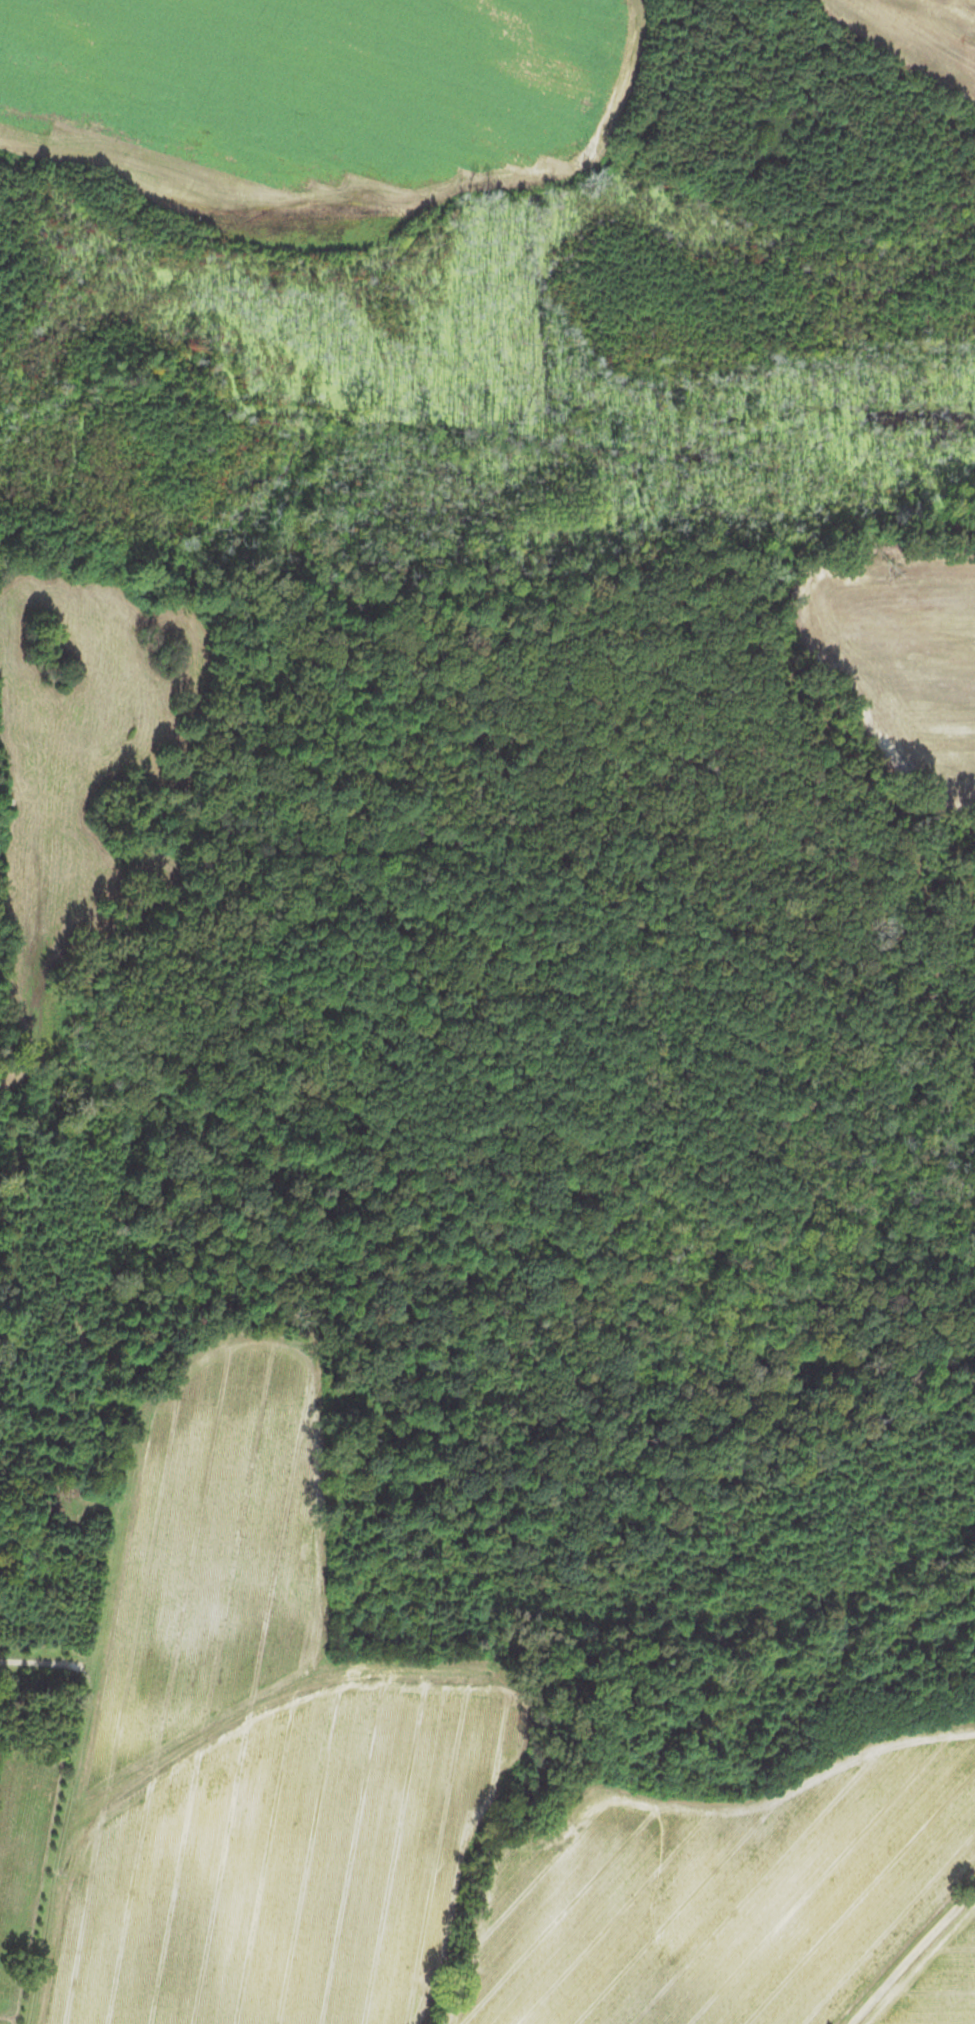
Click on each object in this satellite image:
road: (911, 1953)

